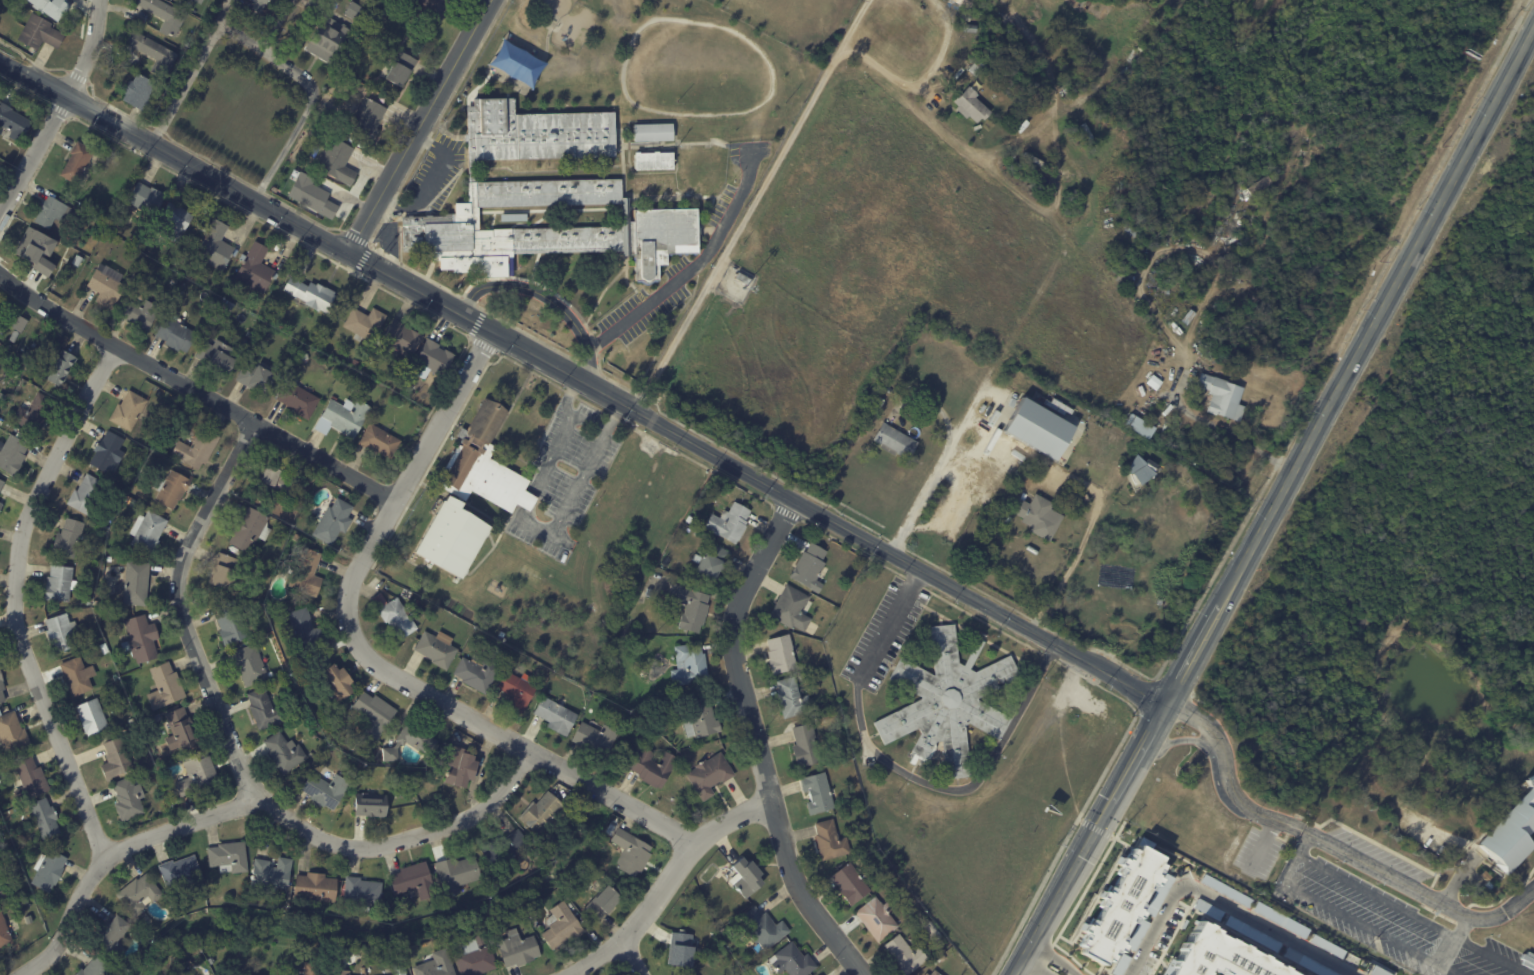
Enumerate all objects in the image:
building: (269, 0)
building: (199, 1)
building: (964, 3)
building: (315, 4)
building: (258, 5)
building: (48, 8)
building: (434, 9)
building: (353, 10)
building: (163, 14)
building: (966, 16)
building: (388, 21)
building: (398, 27)
building: (969, 28)
building: (38, 33)
road: (241, 38)
building: (327, 39)
building: (150, 51)
building: (1140, 53)
road: (31, 61)
building: (516, 61)
building: (983, 61)
park: (516, 62)
building: (1076, 62)
track: (694, 69)
building: (401, 70)
road: (190, 72)
road: (76, 76)
road: (922, 82)
road: (23, 90)
building: (138, 92)
road: (311, 93)
building: (381, 99)
building: (971, 105)
road: (58, 109)
road: (58, 110)
building: (366, 120)
building: (13, 122)
road: (419, 126)
building: (651, 132)
building: (1087, 134)
building: (361, 145)
road: (209, 160)
building: (652, 160)
building: (337, 161)
building: (76, 162)
parking lot: (434, 177)
road: (431, 181)
building: (653, 184)
building: (1259, 185)
road: (244, 195)
building: (310, 195)
building: (544, 197)
building: (145, 199)
parking lot: (722, 205)
road: (752, 206)
building: (49, 212)
building: (173, 222)
road: (269, 226)
road: (354, 237)
building: (45, 240)
building: (27, 243)
road: (369, 245)
building: (215, 247)
road: (362, 259)
building: (76, 261)
parking lot: (676, 268)
road: (692, 268)
building: (254, 270)
road: (416, 271)
building: (179, 275)
building: (740, 278)
building: (173, 283)
building: (183, 285)
building: (105, 286)
building: (216, 288)
building: (310, 295)
road: (546, 298)
road: (468, 300)
building: (0, 304)
building: (227, 305)
road: (479, 307)
building: (139, 313)
parking lot: (640, 313)
building: (1187, 317)
building: (18, 322)
road: (476, 323)
building: (364, 324)
building: (13, 335)
building: (175, 335)
building: (249, 335)
building: (401, 339)
road: (483, 344)
building: (215, 357)
building: (434, 358)
building: (20, 362)
building: (354, 363)
building: (60, 367)
building: (255, 379)
building: (1152, 382)
road: (195, 391)
building: (1221, 396)
road: (567, 397)
building: (297, 400)
building: (878, 404)
building: (127, 410)
building: (33, 412)
road: (613, 417)
building: (343, 418)
road: (587, 422)
building: (1138, 425)
road: (634, 428)
building: (1036, 429)
building: (379, 442)
building: (895, 442)
building: (195, 448)
road: (422, 449)
building: (106, 452)
building: (12, 454)
road: (550, 456)
building: (481, 461)
road: (430, 463)
road: (936, 466)
building: (1142, 473)
parking lot: (567, 474)
building: (127, 482)
building: (277, 482)
building: (1, 483)
road: (971, 484)
building: (170, 488)
building: (85, 494)
building: (524, 500)
building: (132, 501)
road: (527, 502)
road: (1276, 503)
building: (0, 504)
road: (567, 507)
road: (787, 511)
building: (1036, 515)
building: (105, 518)
road: (826, 518)
building: (333, 521)
building: (729, 522)
building: (249, 529)
building: (147, 531)
building: (451, 536)
building: (67, 537)
road: (1081, 543)
road: (853, 548)
building: (108, 558)
building: (712, 561)
building: (810, 567)
building: (223, 571)
building: (306, 572)
road: (913, 581)
building: (59, 582)
building: (135, 583)
road: (15, 598)
building: (110, 606)
building: (689, 606)
building: (791, 608)
road: (181, 610)
building: (394, 615)
building: (230, 622)
building: (501, 624)
building: (302, 627)
building: (60, 631)
building: (270, 634)
parking lot: (883, 634)
building: (140, 638)
building: (262, 644)
building: (103, 648)
building: (436, 648)
building: (781, 654)
building: (250, 664)
building: (690, 664)
building: (476, 673)
building: (76, 675)
building: (115, 677)
building: (337, 683)
building: (1, 685)
building: (165, 685)
building: (516, 691)
building: (792, 698)
building: (946, 702)
building: (821, 707)
building: (264, 709)
building: (374, 713)
building: (25, 714)
building: (555, 715)
building: (91, 717)
building: (701, 718)
road: (487, 728)
building: (179, 730)
building: (11, 732)
road: (1124, 735)
building: (595, 738)
building: (411, 741)
road: (756, 742)
building: (807, 746)
building: (283, 752)
road: (1208, 752)
building: (115, 759)
building: (458, 765)
building: (653, 767)
road: (902, 771)
building: (196, 773)
building: (709, 775)
building: (28, 779)
building: (323, 789)
building: (407, 792)
building: (818, 793)
building: (127, 799)
road: (260, 805)
building: (370, 805)
building: (893, 805)
building: (542, 814)
building: (43, 818)
road: (1301, 825)
building: (1509, 831)
building: (830, 840)
building: (1144, 843)
road: (1300, 845)
road: (1261, 846)
building: (505, 847)
building: (631, 852)
parking lot: (1257, 853)
building: (228, 855)
road: (1309, 860)
road: (1356, 863)
building: (47, 870)
building: (179, 872)
building: (271, 872)
building: (456, 874)
building: (892, 876)
building: (746, 877)
building: (412, 880)
road: (665, 883)
building: (851, 883)
building: (314, 889)
building: (1225, 890)
building: (362, 893)
building: (137, 894)
building: (1158, 895)
building: (170, 897)
building: (173, 903)
building: (602, 903)
road: (1222, 903)
building: (1119, 904)
building: (1207, 908)
building: (878, 918)
parking lot: (1385, 918)
building: (1279, 919)
building: (563, 925)
building: (761, 927)
building: (931, 929)
building: (4, 932)
building: (1250, 933)
building: (1136, 934)
building: (112, 937)
building: (439, 941)
road: (1449, 941)
building: (1325, 946)
building: (517, 949)
building: (682, 951)
road: (1035, 951)
building: (905, 954)
building: (1218, 955)
building: (474, 956)
road: (634, 958)
building: (791, 960)
building: (1305, 963)
building: (1120, 964)
building: (436, 965)
building: (94, 968)
building: (311, 968)
building: (396, 970)
building: (1378, 971)
building: (338, 972)
building: (935, 973)
building: (693, 974)
building: (821, 974)
building: (927, 974)
road: (1072, 974)
road: (1074, 974)

